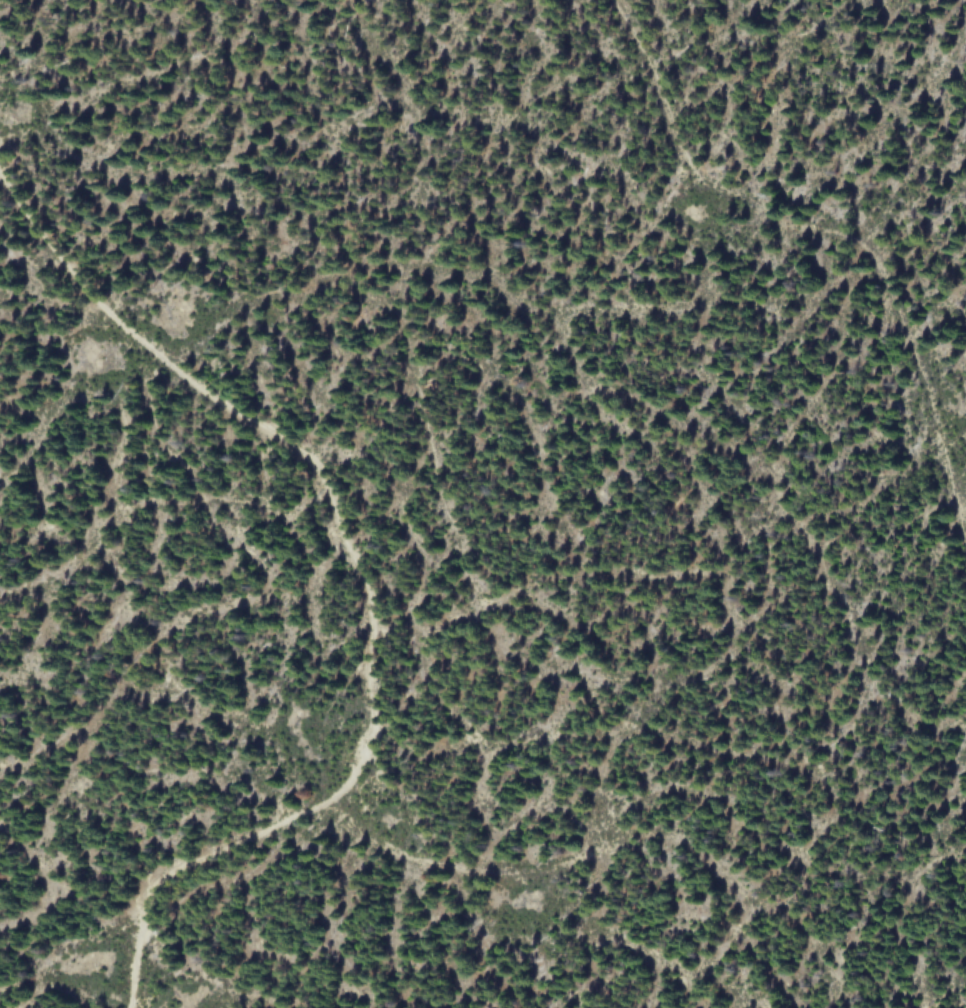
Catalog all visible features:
road: (360, 578)

